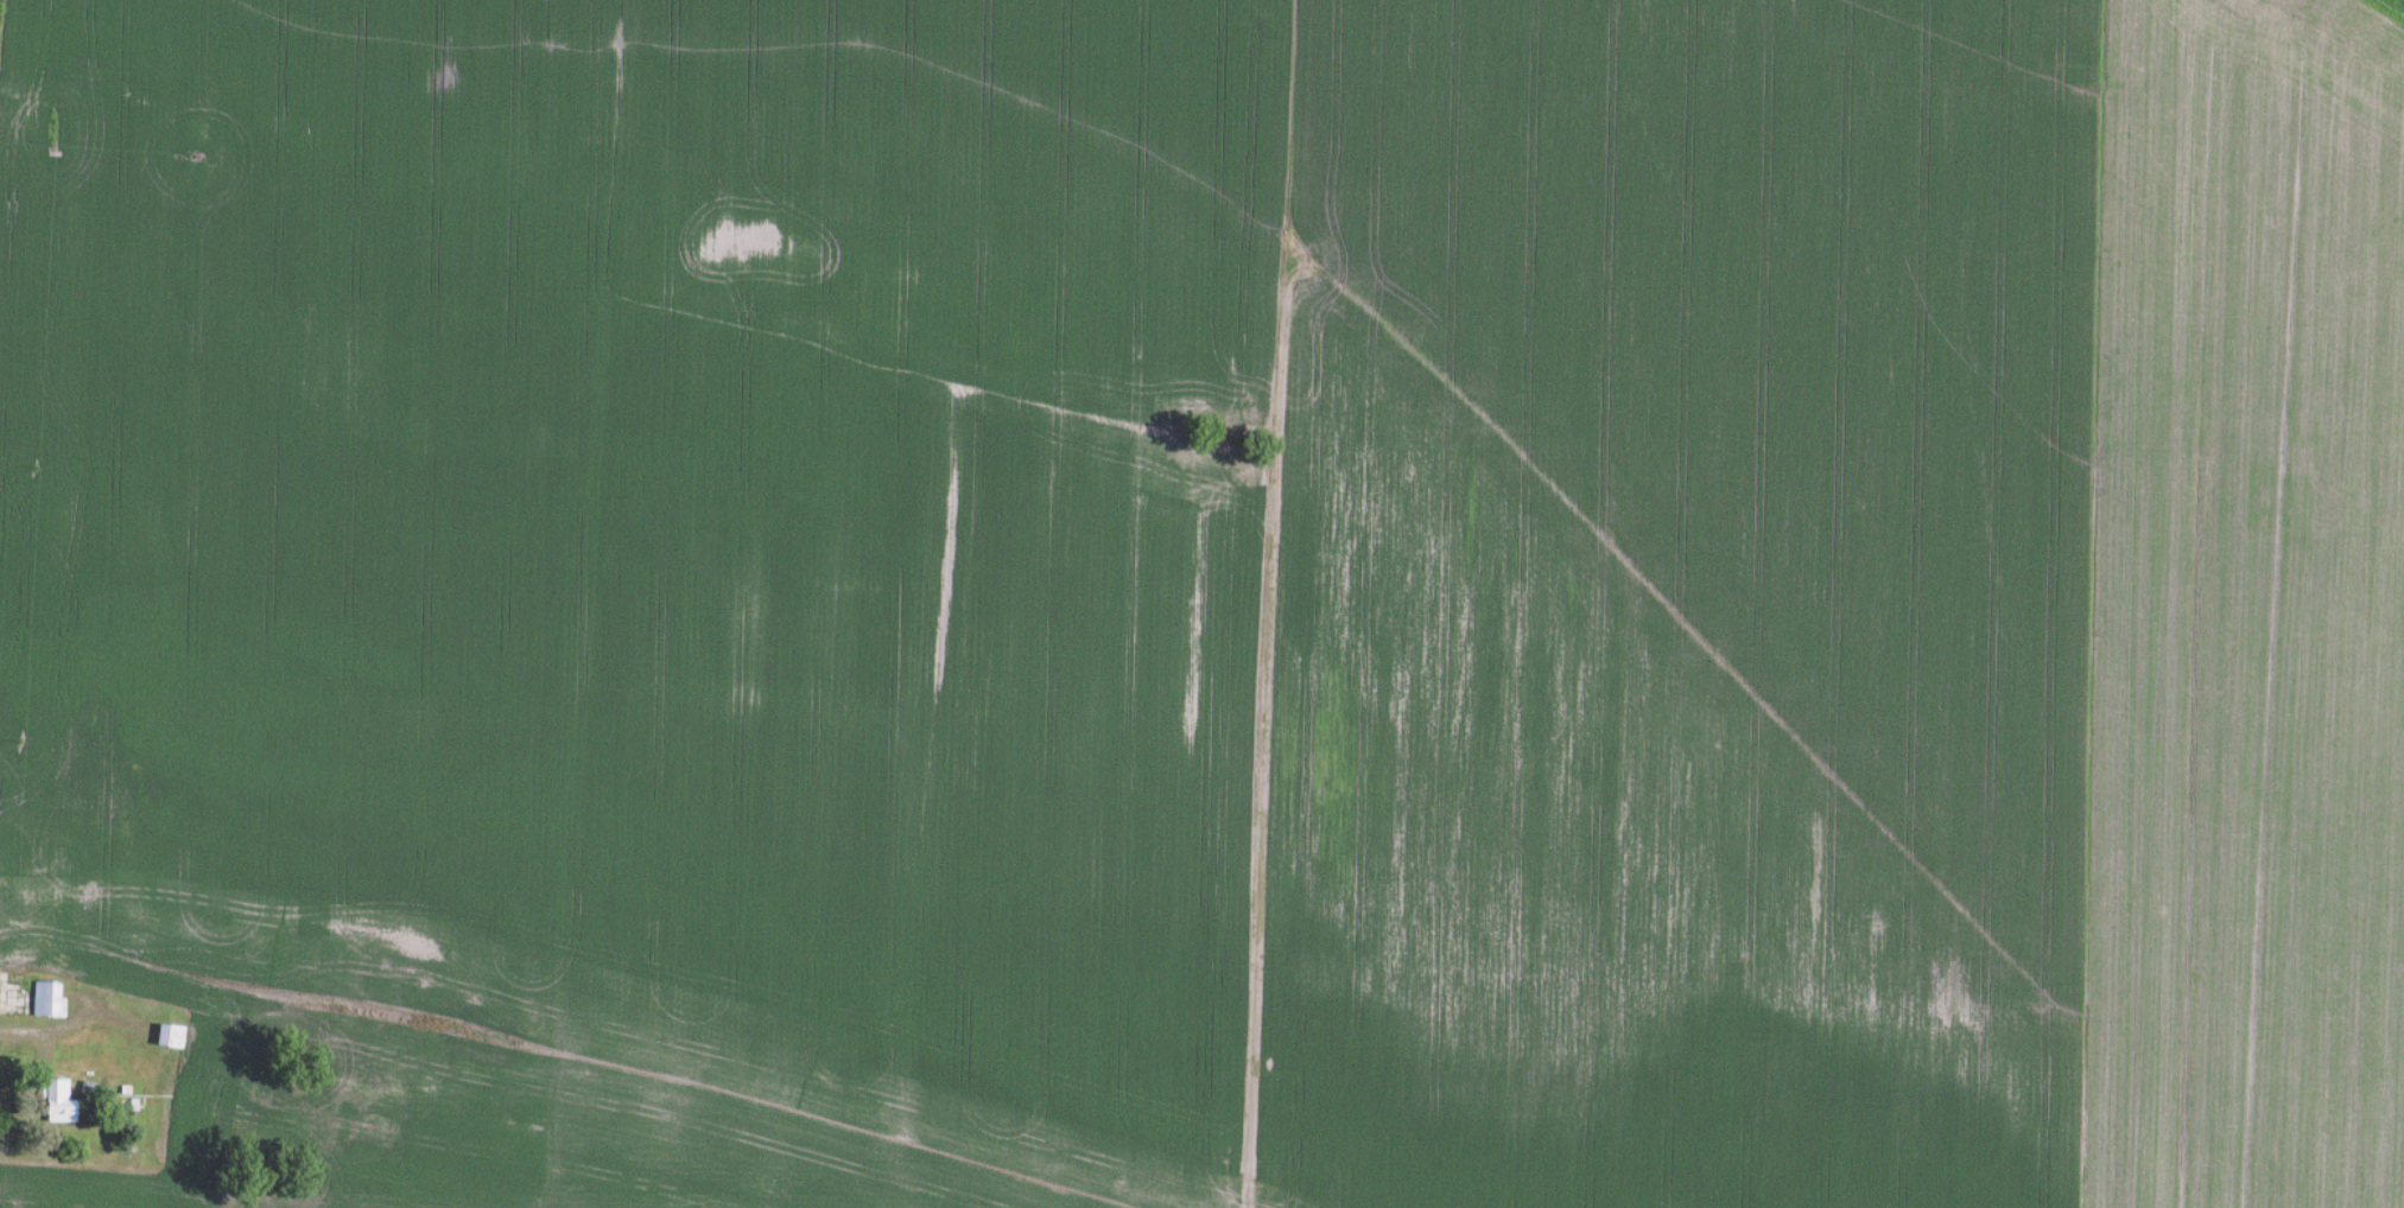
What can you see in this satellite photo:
building: (94, 765)
building: (43, 1000)
road: (72, 1025)
building: (165, 1037)
building: (53, 1102)

